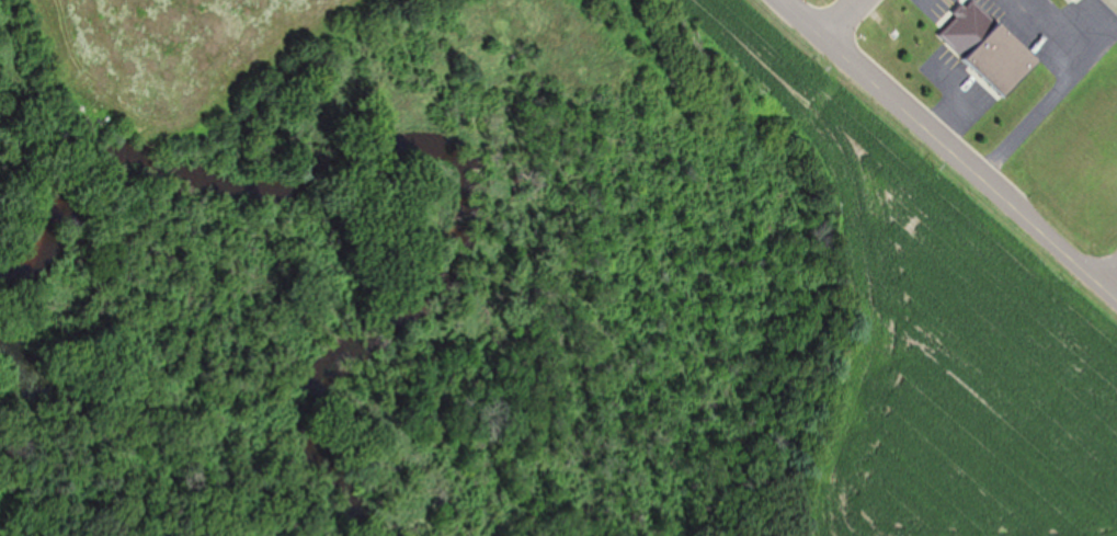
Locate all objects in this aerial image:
building: (1074, 0)
road: (841, 20)
building: (1002, 59)
road: (946, 151)
road: (1105, 272)

